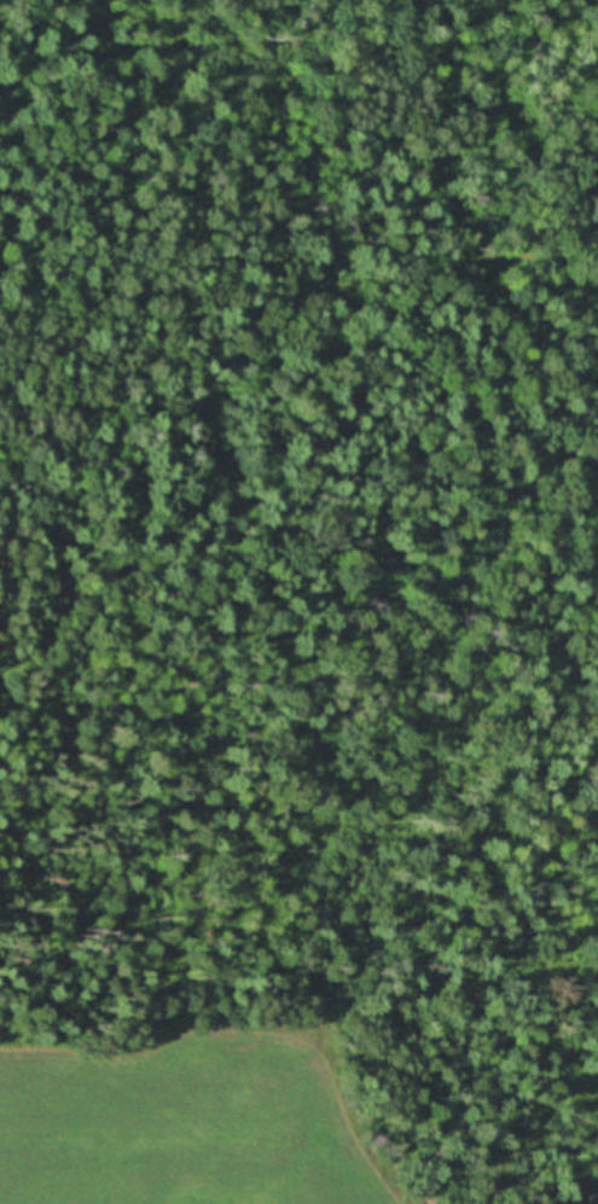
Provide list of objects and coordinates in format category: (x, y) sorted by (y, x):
crop: (196, 1113)

